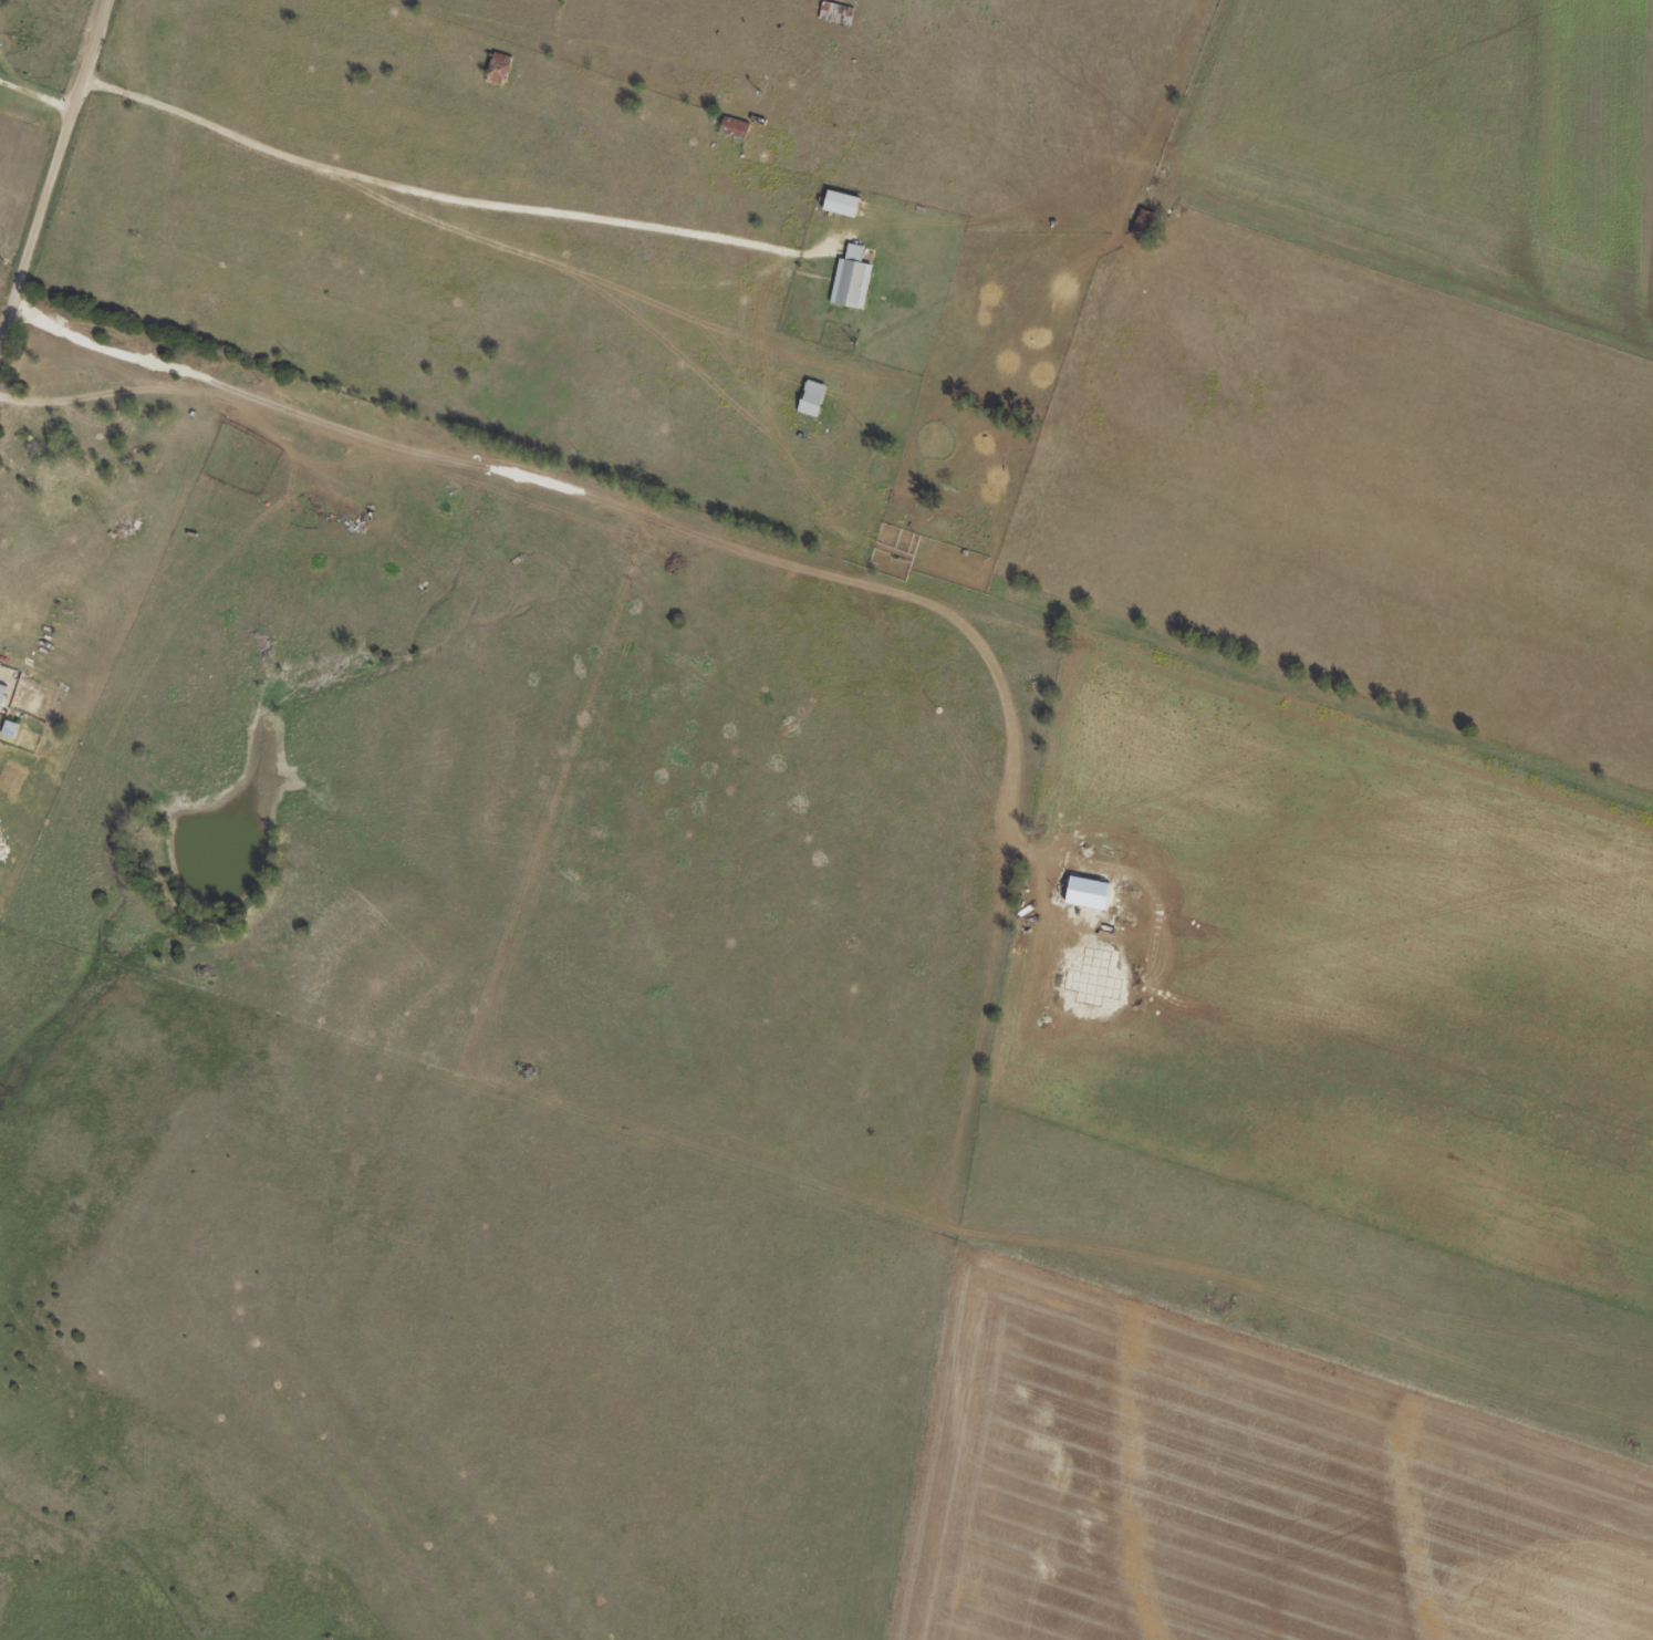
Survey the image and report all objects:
building: (834, 12)
building: (498, 68)
building: (732, 127)
road: (61, 180)
building: (840, 203)
building: (1142, 224)
road: (424, 257)
building: (851, 278)
building: (810, 397)
building: (60, 470)
building: (1, 692)

